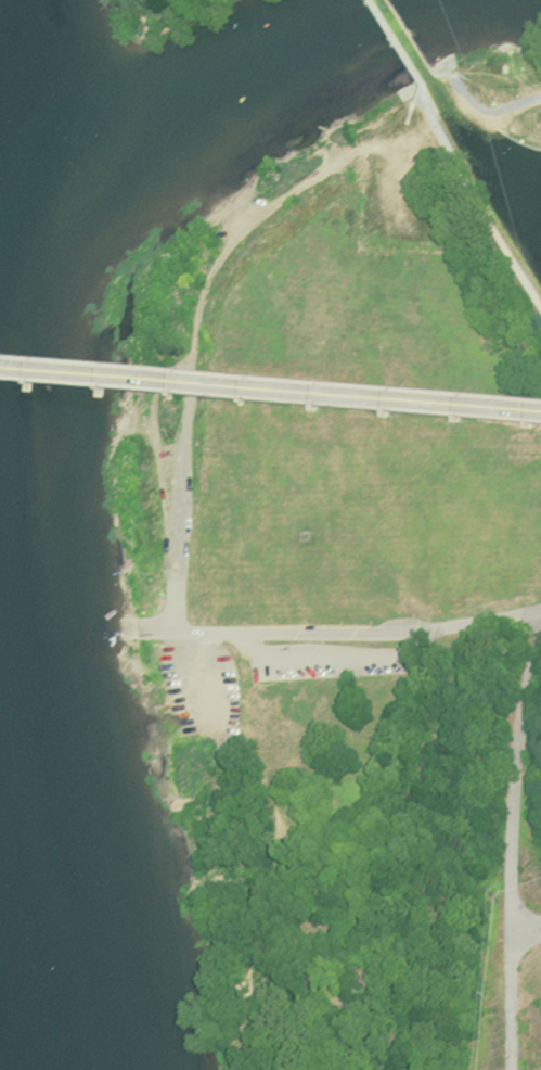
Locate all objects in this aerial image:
road: (394, 43)
river: (195, 89)
road: (534, 97)
power tower: (487, 98)
road: (436, 122)
road: (494, 232)
road: (270, 397)
road: (337, 633)
road: (337, 654)
parking lot: (332, 661)
road: (512, 852)
road: (526, 937)

